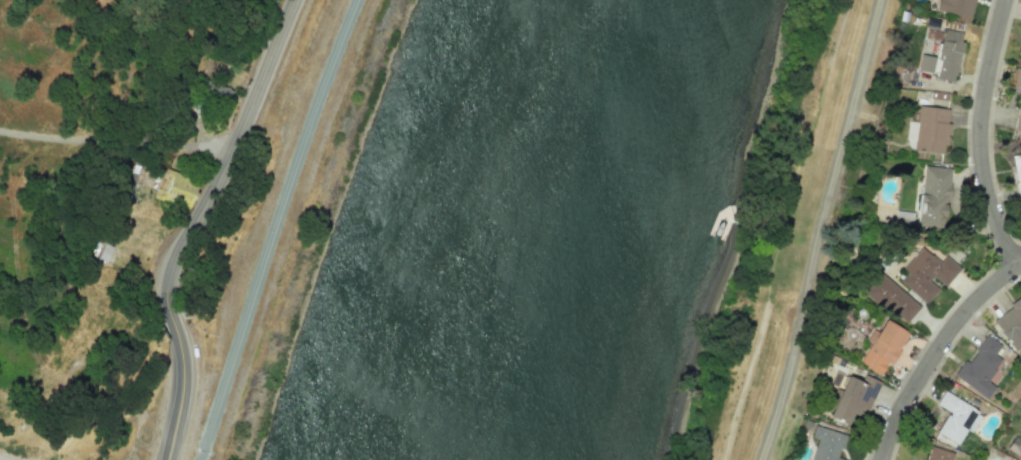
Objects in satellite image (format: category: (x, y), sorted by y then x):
building: (957, 7)
building: (1019, 54)
building: (943, 56)
building: (217, 92)
building: (1019, 109)
building: (931, 129)
building: (910, 132)
road: (985, 133)
road: (116, 139)
road: (292, 163)
building: (1017, 173)
building: (175, 189)
building: (932, 195)
road: (194, 224)
road: (818, 229)
river: (557, 230)
building: (927, 274)
building: (891, 298)
building: (1010, 324)
building: (882, 347)
road: (938, 353)
building: (980, 367)
building: (851, 397)
building: (956, 418)
building: (827, 444)
building: (1015, 446)
building: (939, 454)
road: (3, 459)

